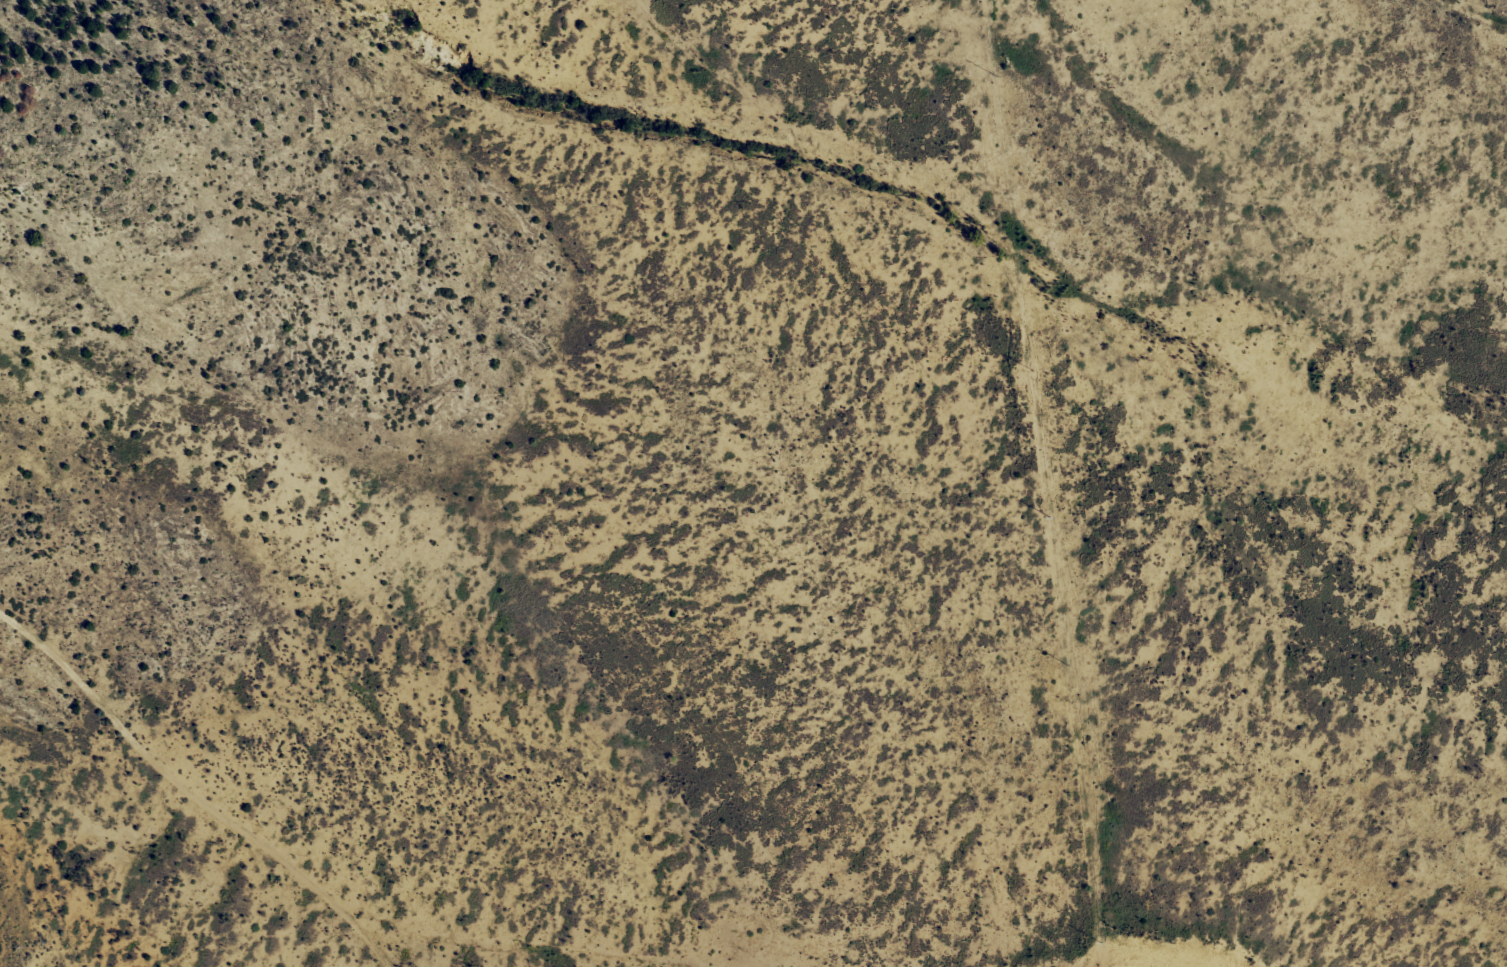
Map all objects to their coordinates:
road: (1504, 964)

